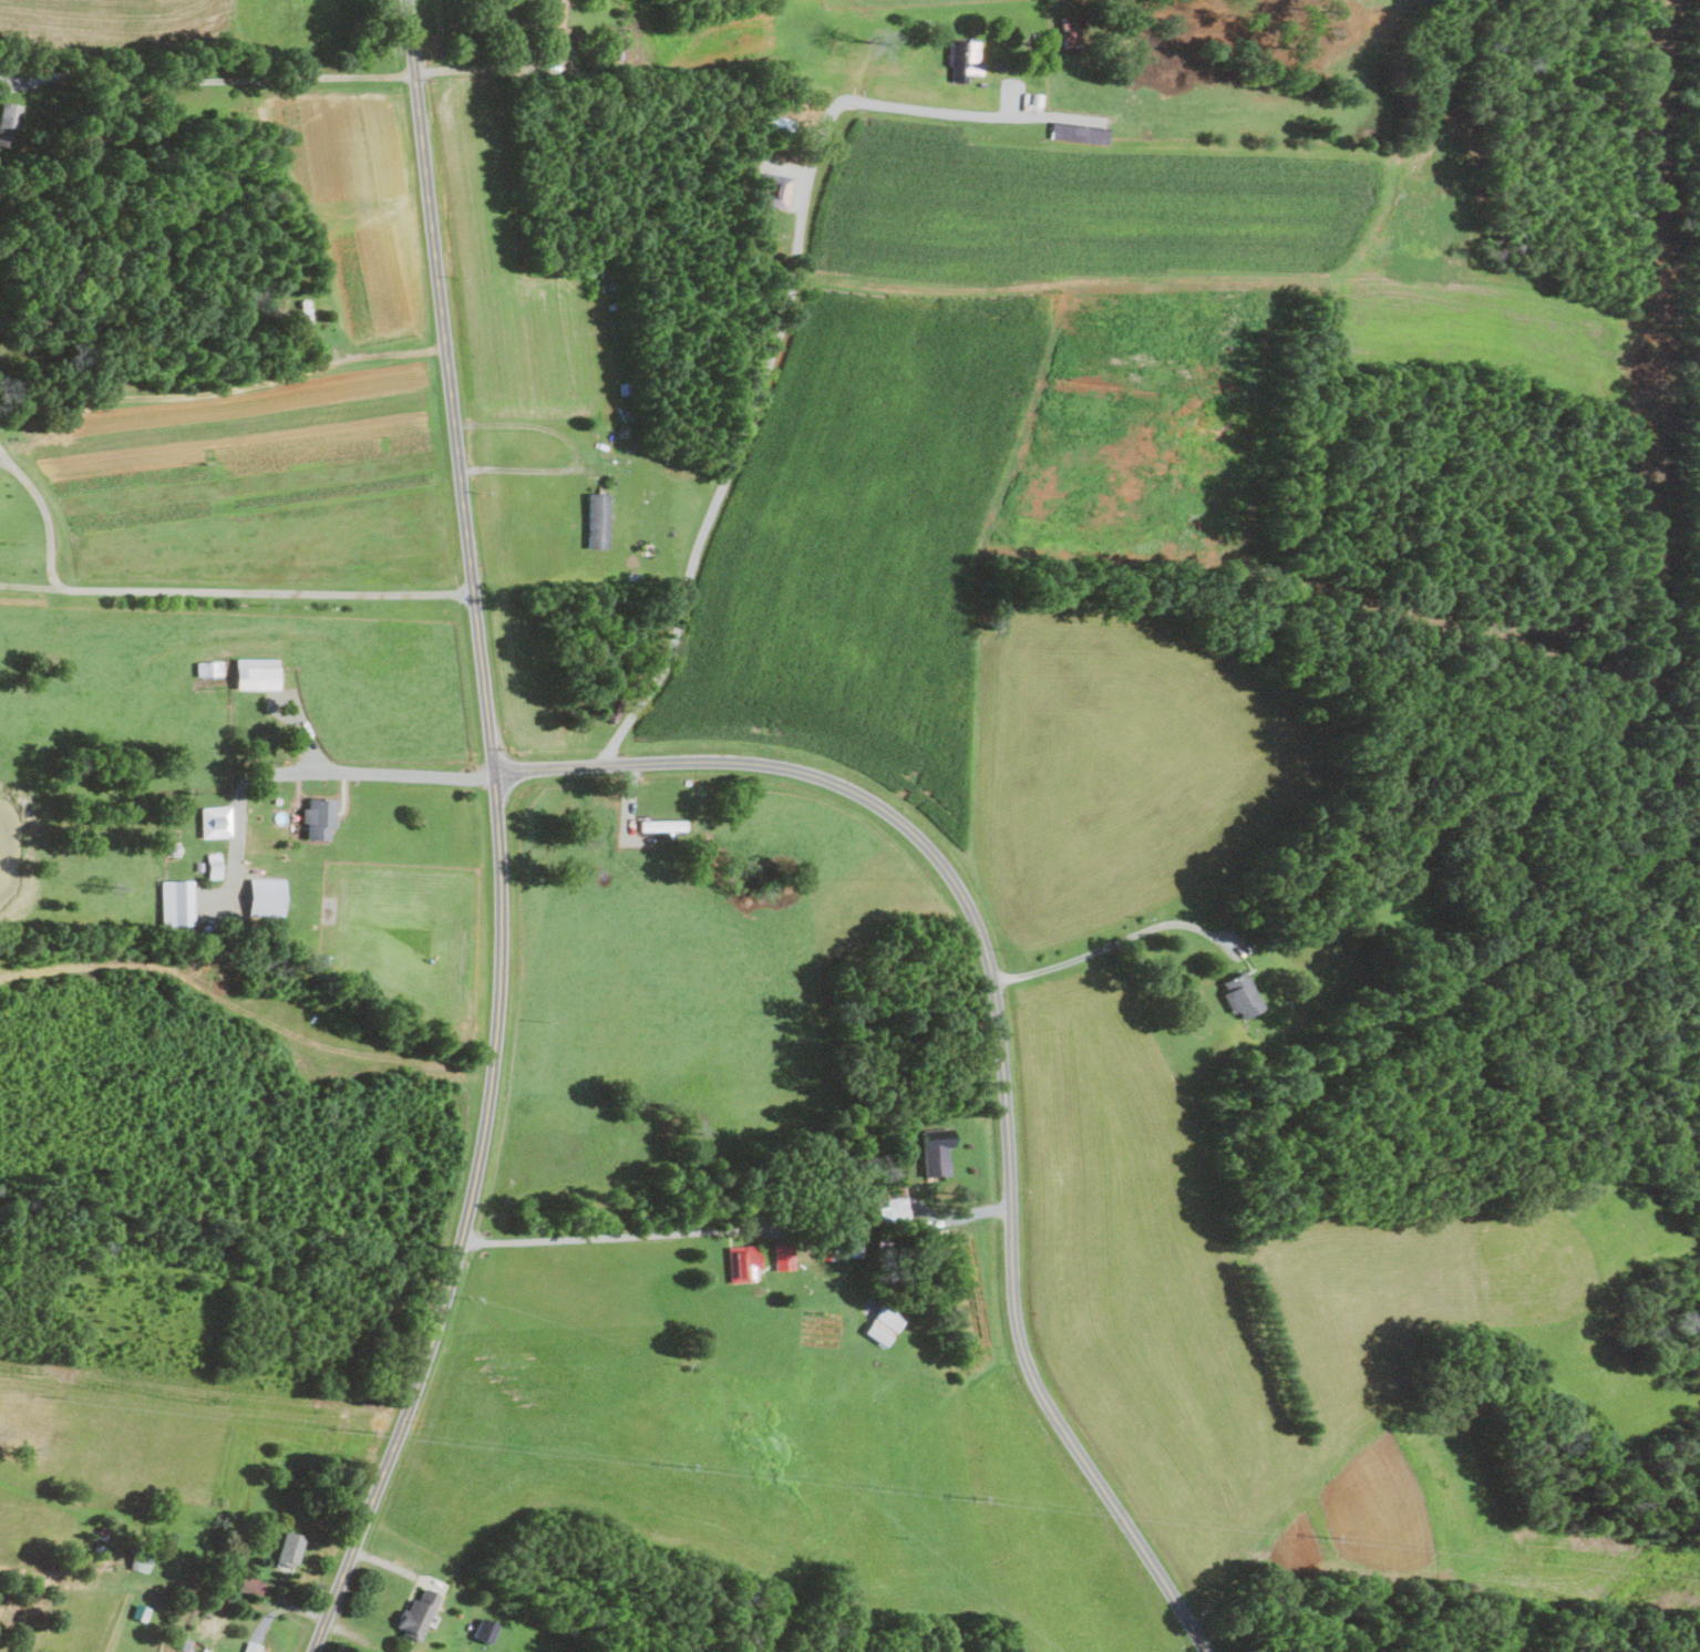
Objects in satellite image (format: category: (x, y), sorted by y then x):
building: (554, 19)
building: (1070, 30)
building: (966, 61)
road: (491, 69)
road: (224, 80)
building: (9, 123)
building: (1080, 134)
building: (777, 190)
road: (774, 354)
road: (220, 391)
road: (574, 447)
road: (3, 457)
building: (599, 519)
road: (30, 586)
road: (194, 591)
building: (209, 668)
building: (257, 673)
road: (332, 772)
building: (319, 817)
building: (216, 822)
building: (662, 825)
road: (497, 838)
building: (215, 865)
building: (267, 897)
building: (177, 902)
road: (1111, 953)
building: (1241, 995)
road: (999, 1041)
building: (936, 1152)
building: (895, 1209)
road: (597, 1237)
building: (784, 1256)
building: (743, 1263)
building: (884, 1325)
building: (290, 1550)
building: (419, 1614)
building: (486, 1630)

